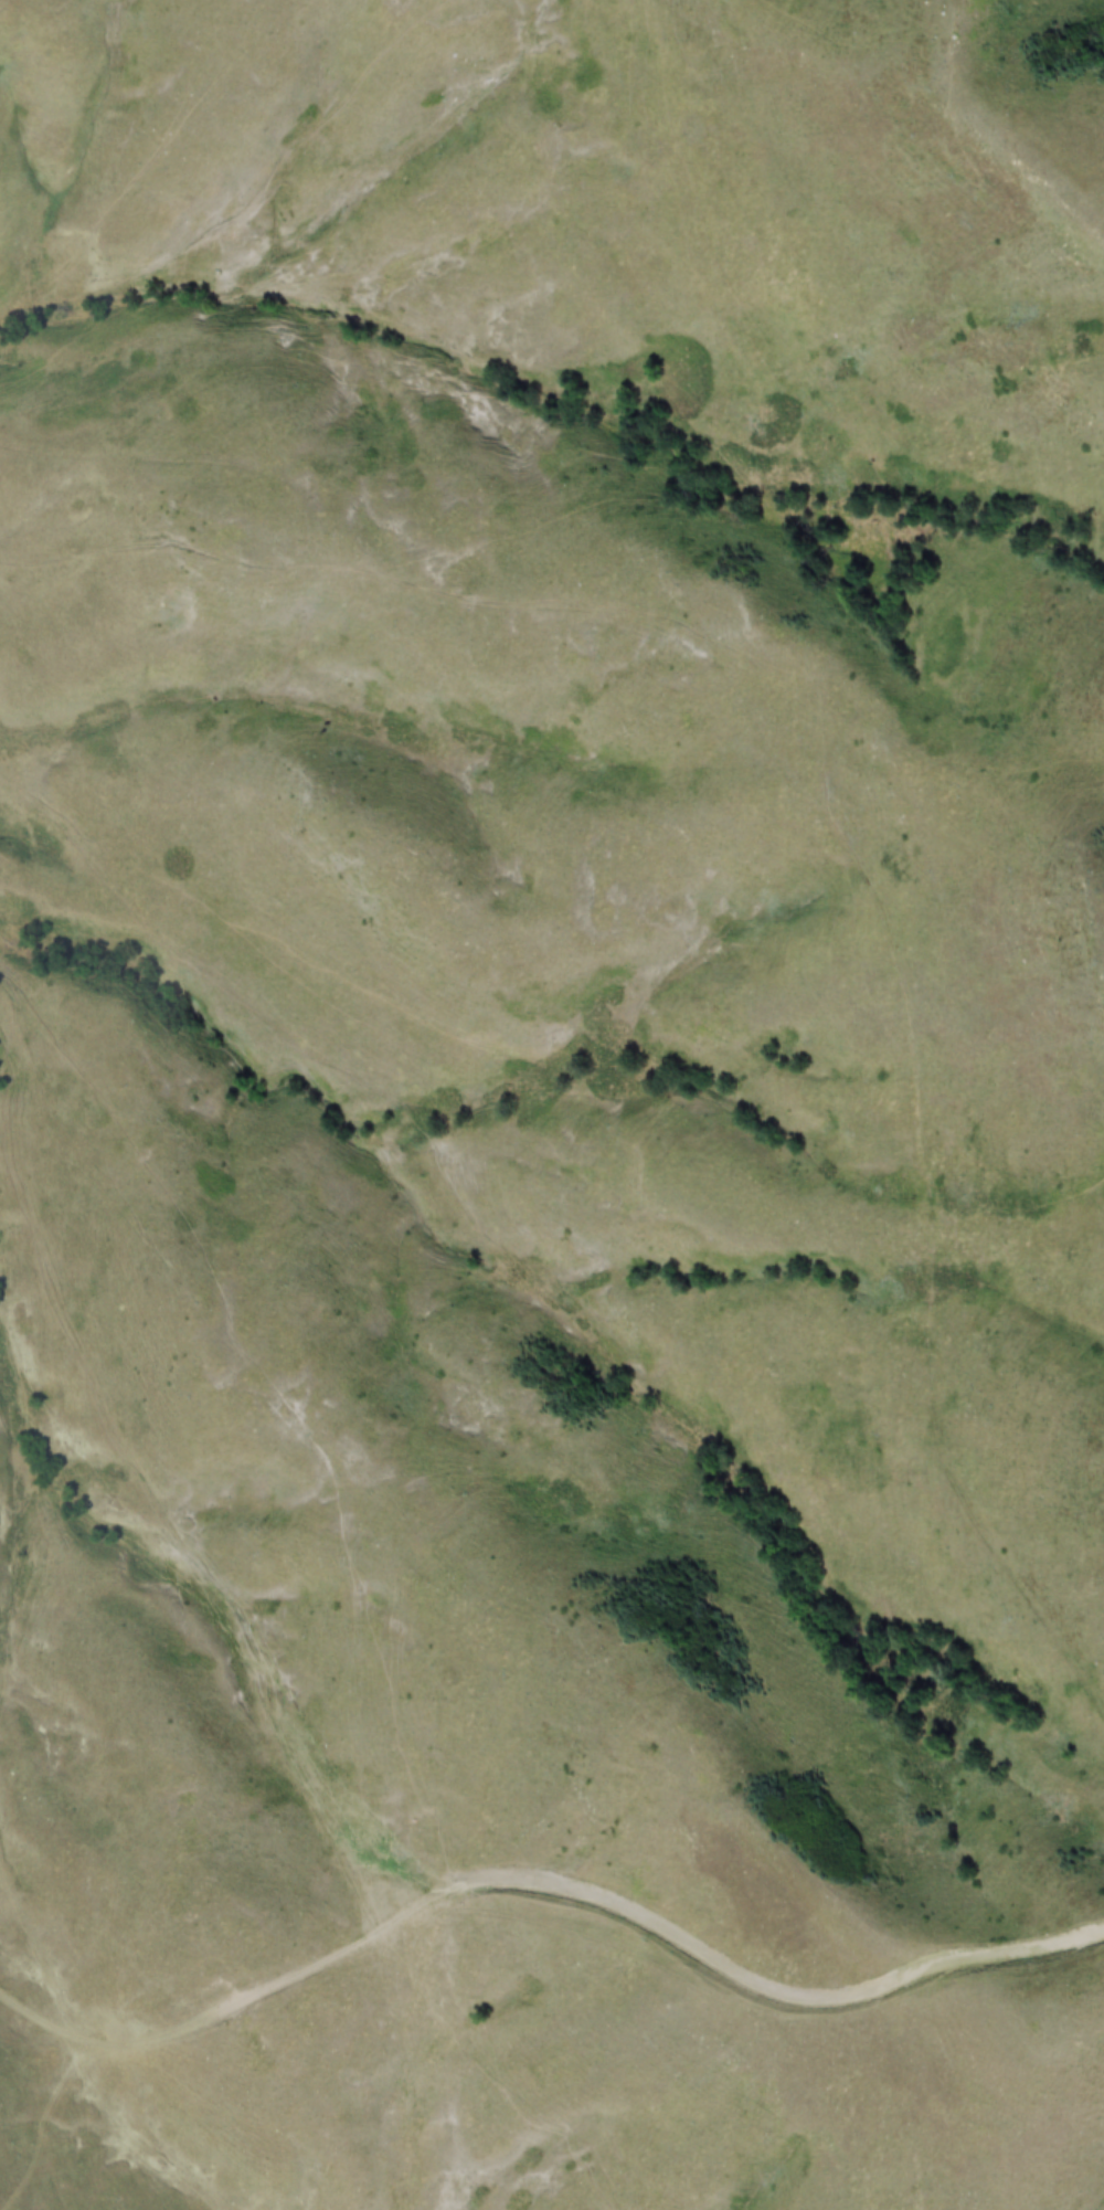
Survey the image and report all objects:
road: (548, 1880)

